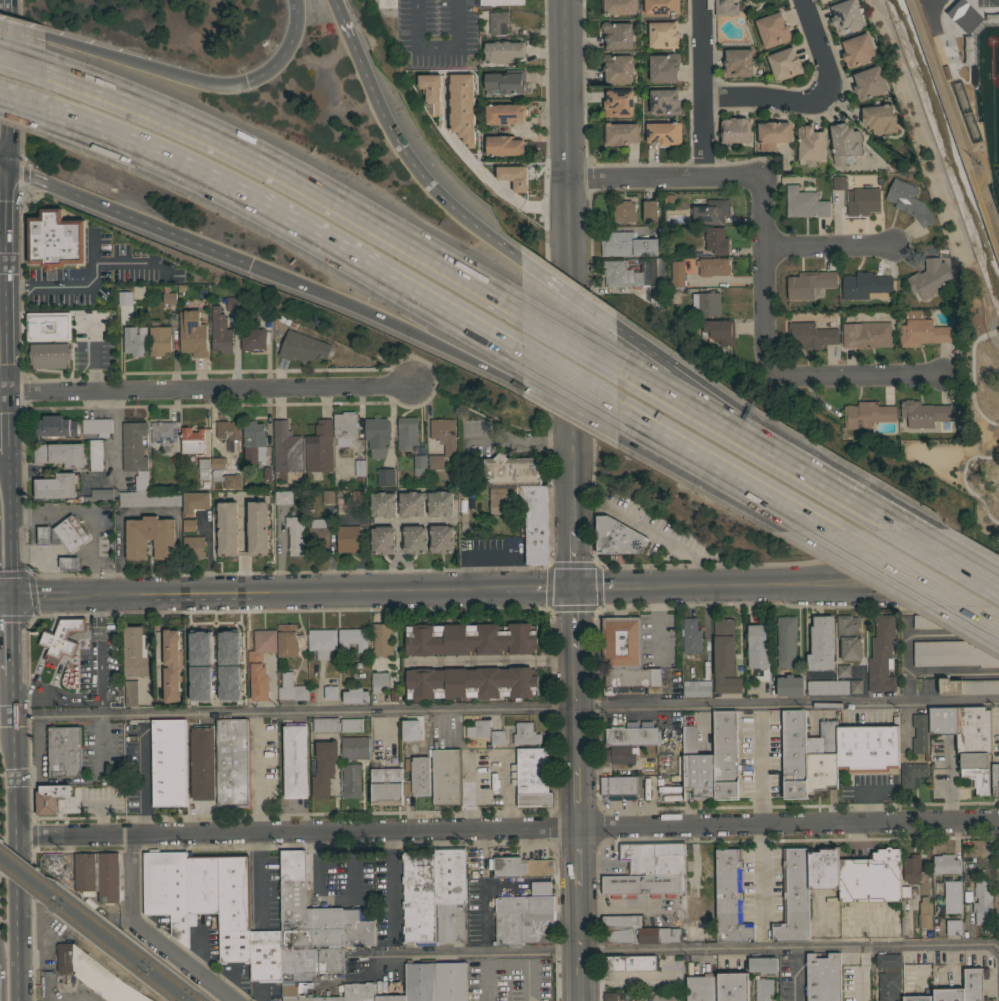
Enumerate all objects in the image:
building: (500, 2)
building: (618, 6)
building: (660, 6)
building: (958, 7)
building: (725, 8)
road: (5, 11)
building: (846, 16)
building: (498, 22)
building: (772, 30)
building: (617, 34)
building: (663, 34)
road: (22, 35)
road: (436, 47)
building: (858, 50)
building: (503, 51)
road: (287, 54)
building: (738, 63)
building: (784, 63)
road: (23, 67)
building: (664, 67)
building: (618, 68)
road: (143, 71)
park: (987, 71)
building: (952, 73)
building: (505, 82)
road: (939, 82)
building: (455, 83)
building: (869, 83)
park: (973, 85)
road: (701, 89)
road: (6, 97)
road: (813, 98)
building: (664, 101)
building: (618, 102)
road: (23, 110)
building: (504, 113)
building: (879, 118)
building: (453, 130)
building: (734, 130)
building: (620, 133)
building: (663, 133)
building: (772, 133)
road: (388, 139)
building: (843, 141)
road: (569, 142)
building: (810, 143)
building: (504, 145)
road: (3, 171)
road: (940, 171)
traffic signals: (7, 172)
road: (20, 176)
building: (502, 176)
road: (665, 178)
building: (839, 182)
road: (45, 185)
road: (7, 191)
road: (17, 192)
building: (863, 201)
building: (908, 201)
building: (804, 202)
building: (642, 210)
building: (649, 210)
building: (624, 211)
building: (710, 212)
road: (152, 227)
road: (6, 235)
building: (55, 239)
building: (715, 240)
road: (399, 242)
building: (626, 244)
road: (828, 245)
road: (3, 261)
road: (121, 264)
building: (712, 266)
building: (623, 273)
road: (762, 273)
building: (930, 278)
road: (6, 279)
building: (809, 283)
building: (864, 285)
road: (74, 287)
building: (122, 292)
building: (655, 293)
building: (168, 296)
building: (231, 304)
building: (708, 305)
road: (583, 306)
road: (438, 308)
building: (246, 310)
building: (912, 314)
building: (95, 318)
building: (55, 326)
road: (990, 330)
building: (220, 331)
building: (720, 331)
building: (921, 332)
building: (192, 334)
building: (811, 334)
building: (866, 334)
building: (254, 339)
building: (134, 340)
building: (159, 340)
road: (7, 345)
building: (301, 347)
building: (49, 355)
road: (941, 359)
road: (828, 362)
road: (849, 363)
road: (851, 375)
road: (519, 387)
road: (217, 390)
road: (10, 392)
road: (711, 394)
building: (923, 413)
road: (985, 413)
building: (867, 414)
road: (8, 421)
building: (55, 426)
building: (97, 426)
building: (344, 427)
building: (228, 430)
building: (163, 432)
building: (406, 432)
building: (377, 435)
road: (977, 436)
park: (964, 437)
building: (192, 440)
building: (441, 440)
building: (253, 441)
road: (521, 441)
building: (319, 447)
building: (286, 448)
building: (59, 454)
building: (95, 454)
building: (419, 464)
building: (203, 468)
building: (359, 470)
building: (509, 471)
building: (141, 472)
building: (216, 472)
building: (385, 476)
road: (824, 480)
building: (56, 486)
building: (96, 495)
building: (328, 496)
building: (283, 497)
building: (357, 497)
building: (501, 499)
building: (195, 502)
building: (382, 504)
building: (411, 507)
road: (572, 509)
road: (40, 511)
building: (535, 522)
road: (10, 523)
building: (188, 525)
building: (257, 527)
building: (227, 528)
building: (216, 529)
building: (246, 529)
building: (70, 533)
gas station: (70, 533)
building: (318, 533)
building: (295, 535)
building: (43, 536)
building: (616, 537)
road: (51, 538)
building: (149, 538)
building: (348, 538)
building: (414, 539)
building: (441, 539)
building: (382, 540)
road: (92, 546)
building: (193, 547)
road: (209, 554)
road: (952, 555)
road: (35, 559)
road: (55, 559)
road: (68, 559)
road: (86, 559)
road: (800, 561)
building: (68, 563)
road: (88, 565)
road: (55, 566)
road: (68, 566)
road: (818, 581)
road: (907, 581)
road: (99, 584)
road: (604, 585)
traffic signals: (571, 586)
road: (520, 587)
road: (270, 591)
road: (6, 596)
traffic signals: (12, 596)
road: (41, 596)
road: (31, 597)
road: (98, 604)
road: (56, 605)
road: (789, 605)
road: (658, 621)
building: (930, 622)
road: (98, 624)
road: (12, 631)
building: (690, 635)
building: (61, 637)
building: (848, 637)
building: (469, 639)
building: (287, 640)
building: (352, 640)
building: (381, 640)
building: (786, 641)
building: (321, 642)
building: (621, 642)
building: (821, 644)
building: (197, 648)
building: (758, 650)
building: (121, 652)
building: (135, 652)
road: (63, 653)
building: (954, 653)
road: (40, 654)
building: (881, 654)
building: (232, 656)
building: (724, 657)
road: (495, 659)
building: (260, 662)
parking lot: (100, 663)
building: (171, 665)
building: (843, 670)
building: (629, 679)
building: (379, 681)
building: (159, 682)
building: (470, 683)
building: (967, 685)
building: (789, 686)
building: (855, 686)
building: (827, 687)
building: (291, 688)
building: (696, 688)
building: (196, 690)
road: (12, 691)
road: (100, 692)
building: (330, 692)
building: (130, 693)
road: (23, 695)
road: (42, 695)
building: (228, 695)
building: (355, 695)
road: (574, 706)
road: (101, 707)
road: (506, 708)
road: (6, 716)
building: (941, 720)
building: (325, 724)
building: (351, 725)
building: (478, 729)
building: (410, 730)
building: (400, 731)
building: (919, 733)
building: (525, 734)
building: (632, 734)
building: (497, 737)
building: (974, 744)
building: (355, 747)
building: (867, 747)
building: (64, 751)
building: (794, 753)
building: (621, 754)
building: (725, 754)
building: (295, 760)
building: (821, 760)
building: (202, 762)
building: (233, 762)
building: (168, 763)
road: (759, 763)
building: (696, 766)
building: (323, 767)
road: (141, 772)
road: (261, 772)
building: (911, 774)
building: (417, 776)
road: (26, 777)
building: (446, 777)
building: (530, 778)
building: (995, 779)
building: (350, 780)
road: (70, 781)
building: (620, 785)
building: (386, 786)
building: (598, 786)
building: (284, 789)
building: (49, 797)
road: (870, 804)
road: (201, 812)
road: (507, 828)
building: (653, 857)
road: (15, 858)
building: (945, 864)
railway: (21, 865)
building: (519, 867)
building: (823, 868)
building: (911, 869)
road: (260, 873)
building: (706, 874)
building: (97, 875)
building: (871, 877)
railway: (21, 879)
building: (643, 885)
road: (762, 885)
building: (201, 886)
building: (166, 889)
building: (905, 891)
building: (233, 892)
building: (449, 894)
building: (418, 897)
building: (793, 897)
building: (952, 897)
building: (729, 898)
building: (527, 899)
building: (294, 900)
building: (694, 901)
building: (982, 903)
building: (925, 912)
road: (577, 914)
building: (327, 926)
building: (953, 926)
building: (523, 927)
building: (356, 928)
building: (696, 928)
building: (633, 931)
road: (146, 933)
building: (265, 936)
railway: (121, 941)
building: (234, 946)
railway: (110, 948)
road: (675, 948)
building: (311, 960)
road: (491, 960)
building: (888, 960)
building: (265, 962)
building: (630, 963)
building: (762, 964)
road: (507, 965)
building: (745, 965)
building: (94, 974)
road: (799, 974)
building: (823, 977)
building: (435, 980)
building: (974, 983)
building: (888, 985)
building: (275, 986)
building: (732, 987)
building: (701, 988)
building: (763, 989)
building: (358, 991)
building: (947, 994)
building: (307, 995)
building: (609, 996)
building: (389, 998)
building: (917, 998)

